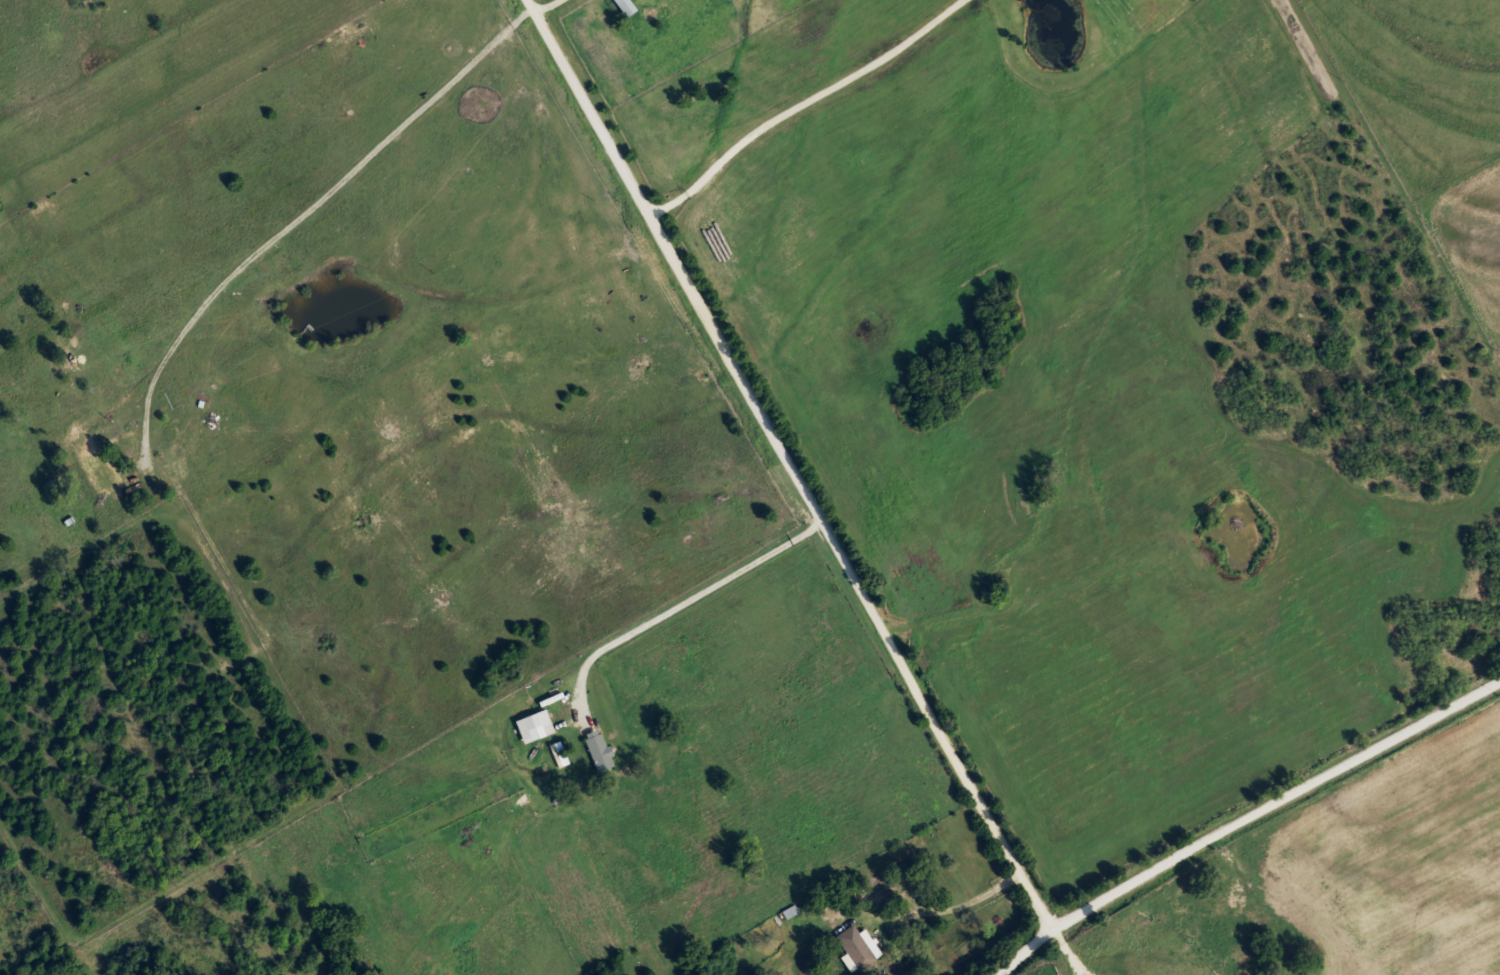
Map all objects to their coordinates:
building: (620, 5)
road: (544, 6)
road: (789, 464)
building: (95, 472)
building: (594, 750)
road: (1274, 799)
road: (942, 906)
building: (851, 943)
road: (1021, 949)

